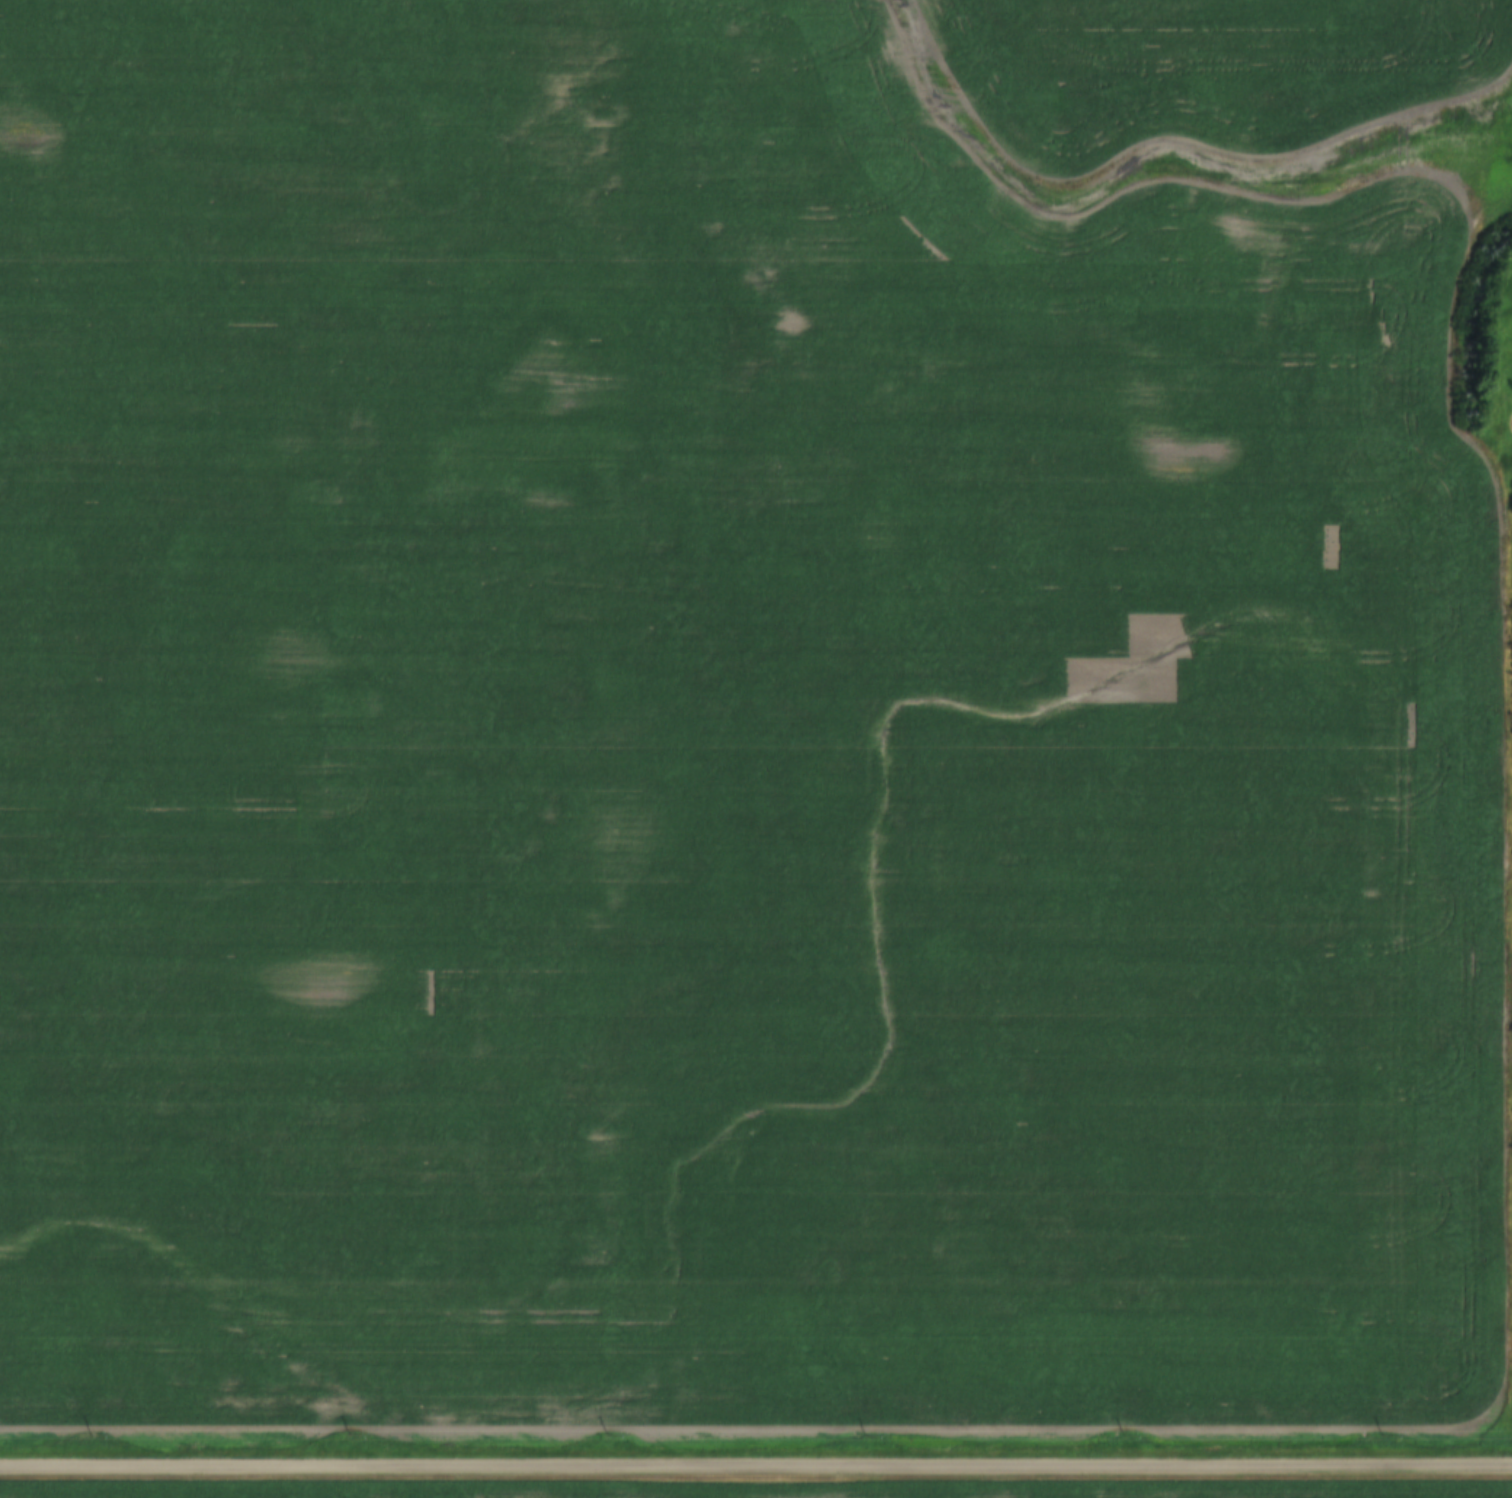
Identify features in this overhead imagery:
road: (756, 1465)

